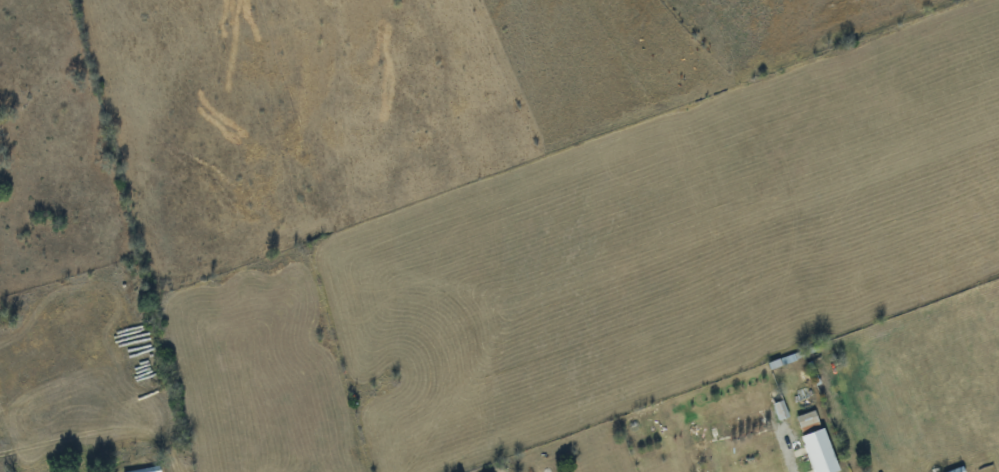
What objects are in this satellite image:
building: (781, 409)
building: (808, 419)
building: (745, 424)
road: (789, 450)
building: (700, 451)
building: (820, 451)
building: (146, 469)
building: (957, 470)

